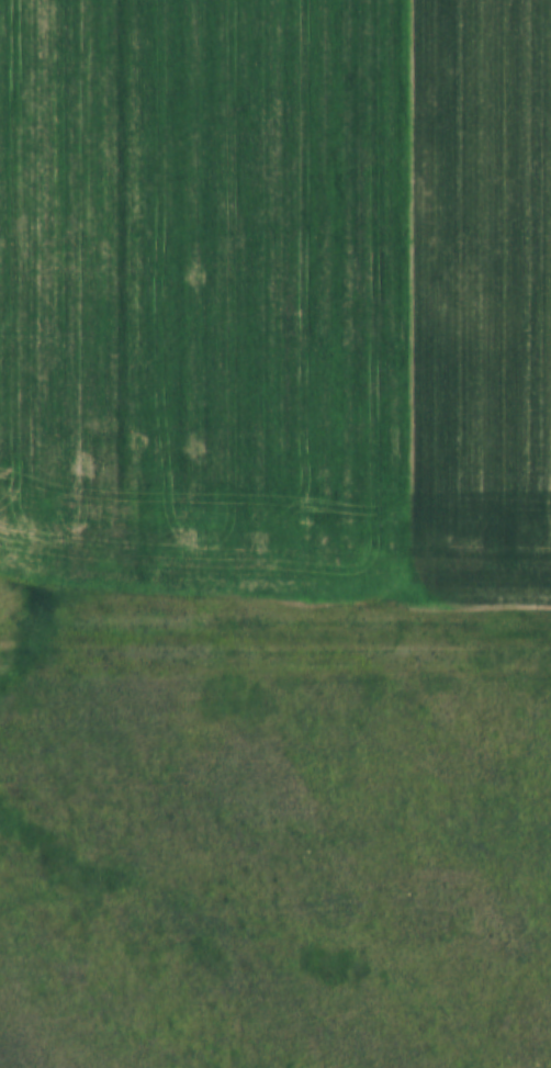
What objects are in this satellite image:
road: (274, 640)

